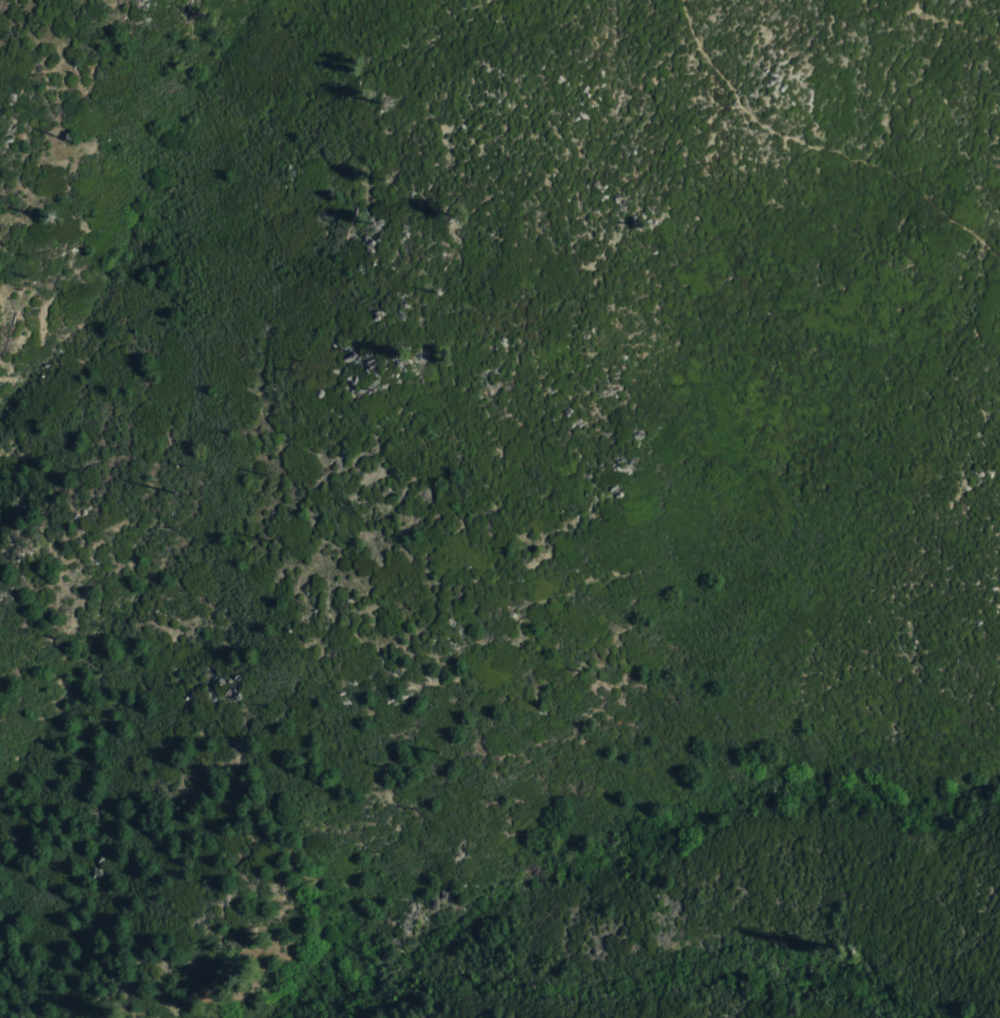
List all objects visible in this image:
road: (820, 147)

